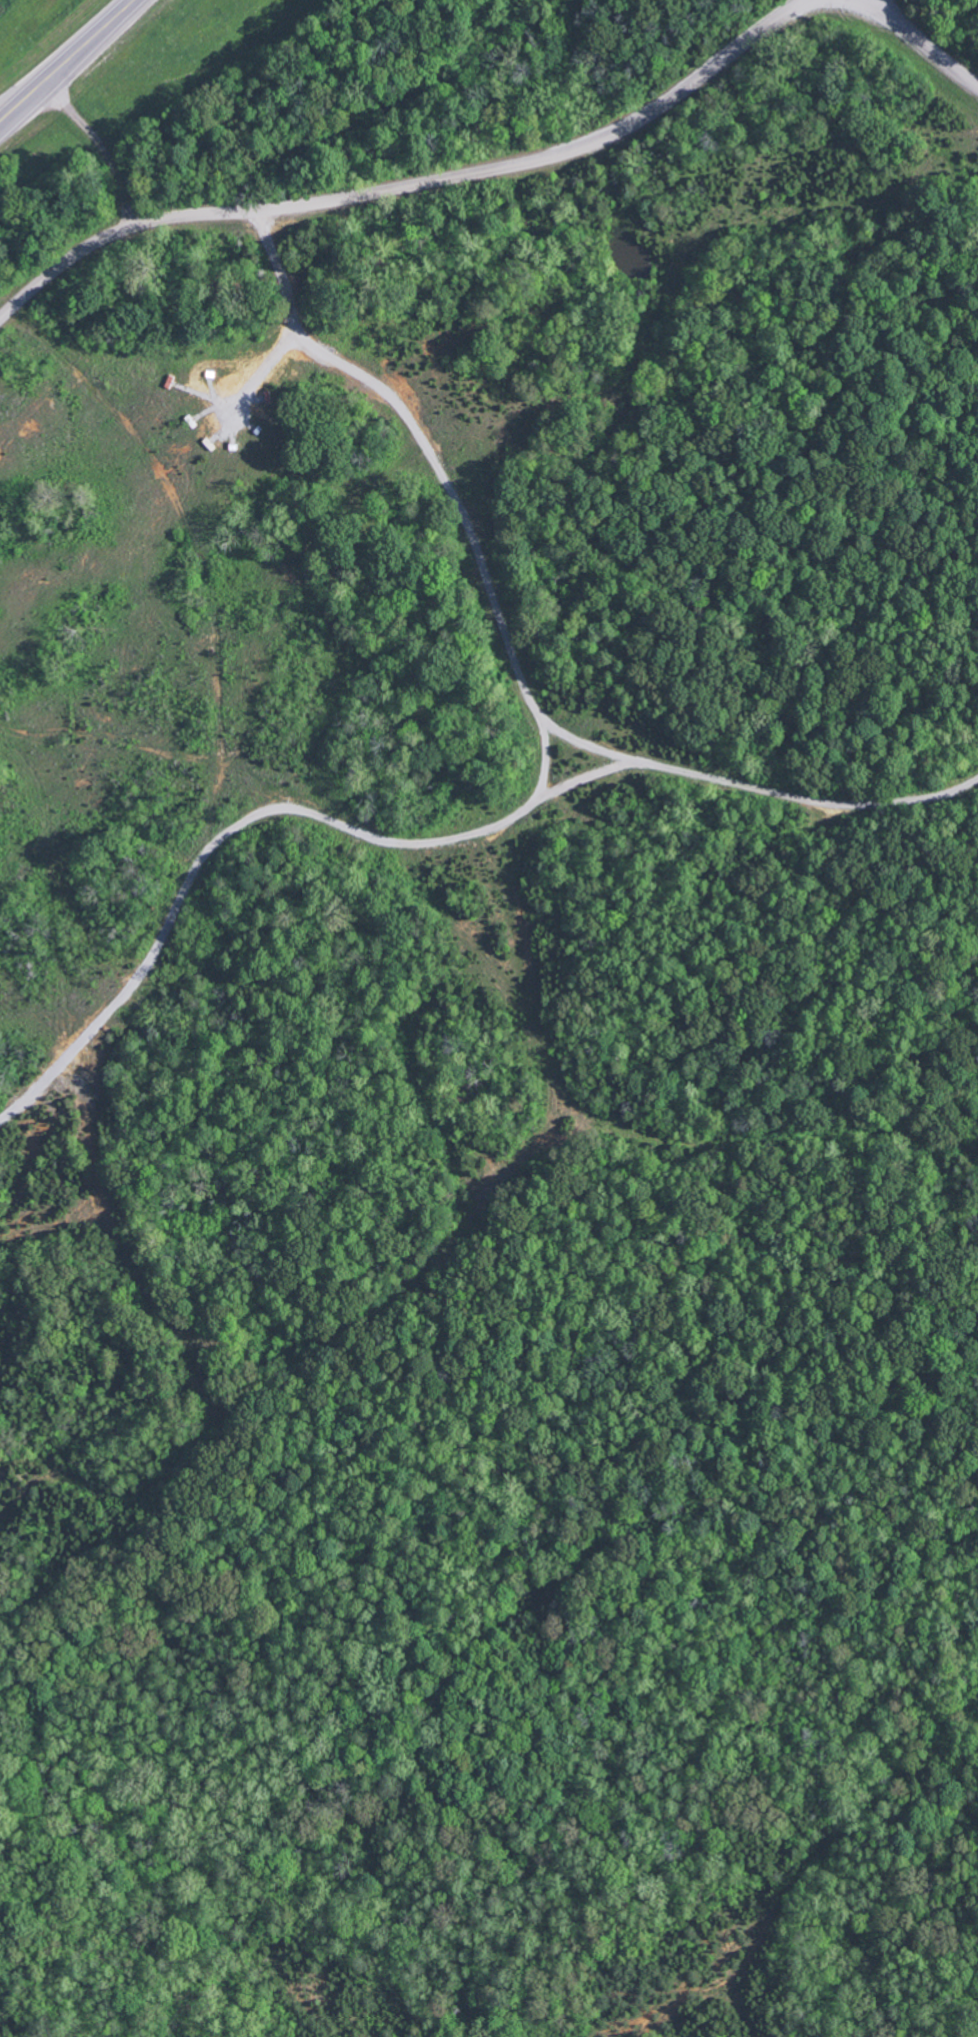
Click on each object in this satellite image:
road: (909, 36)
road: (68, 61)
road: (105, 146)
road: (424, 185)
road: (264, 367)
road: (509, 656)

